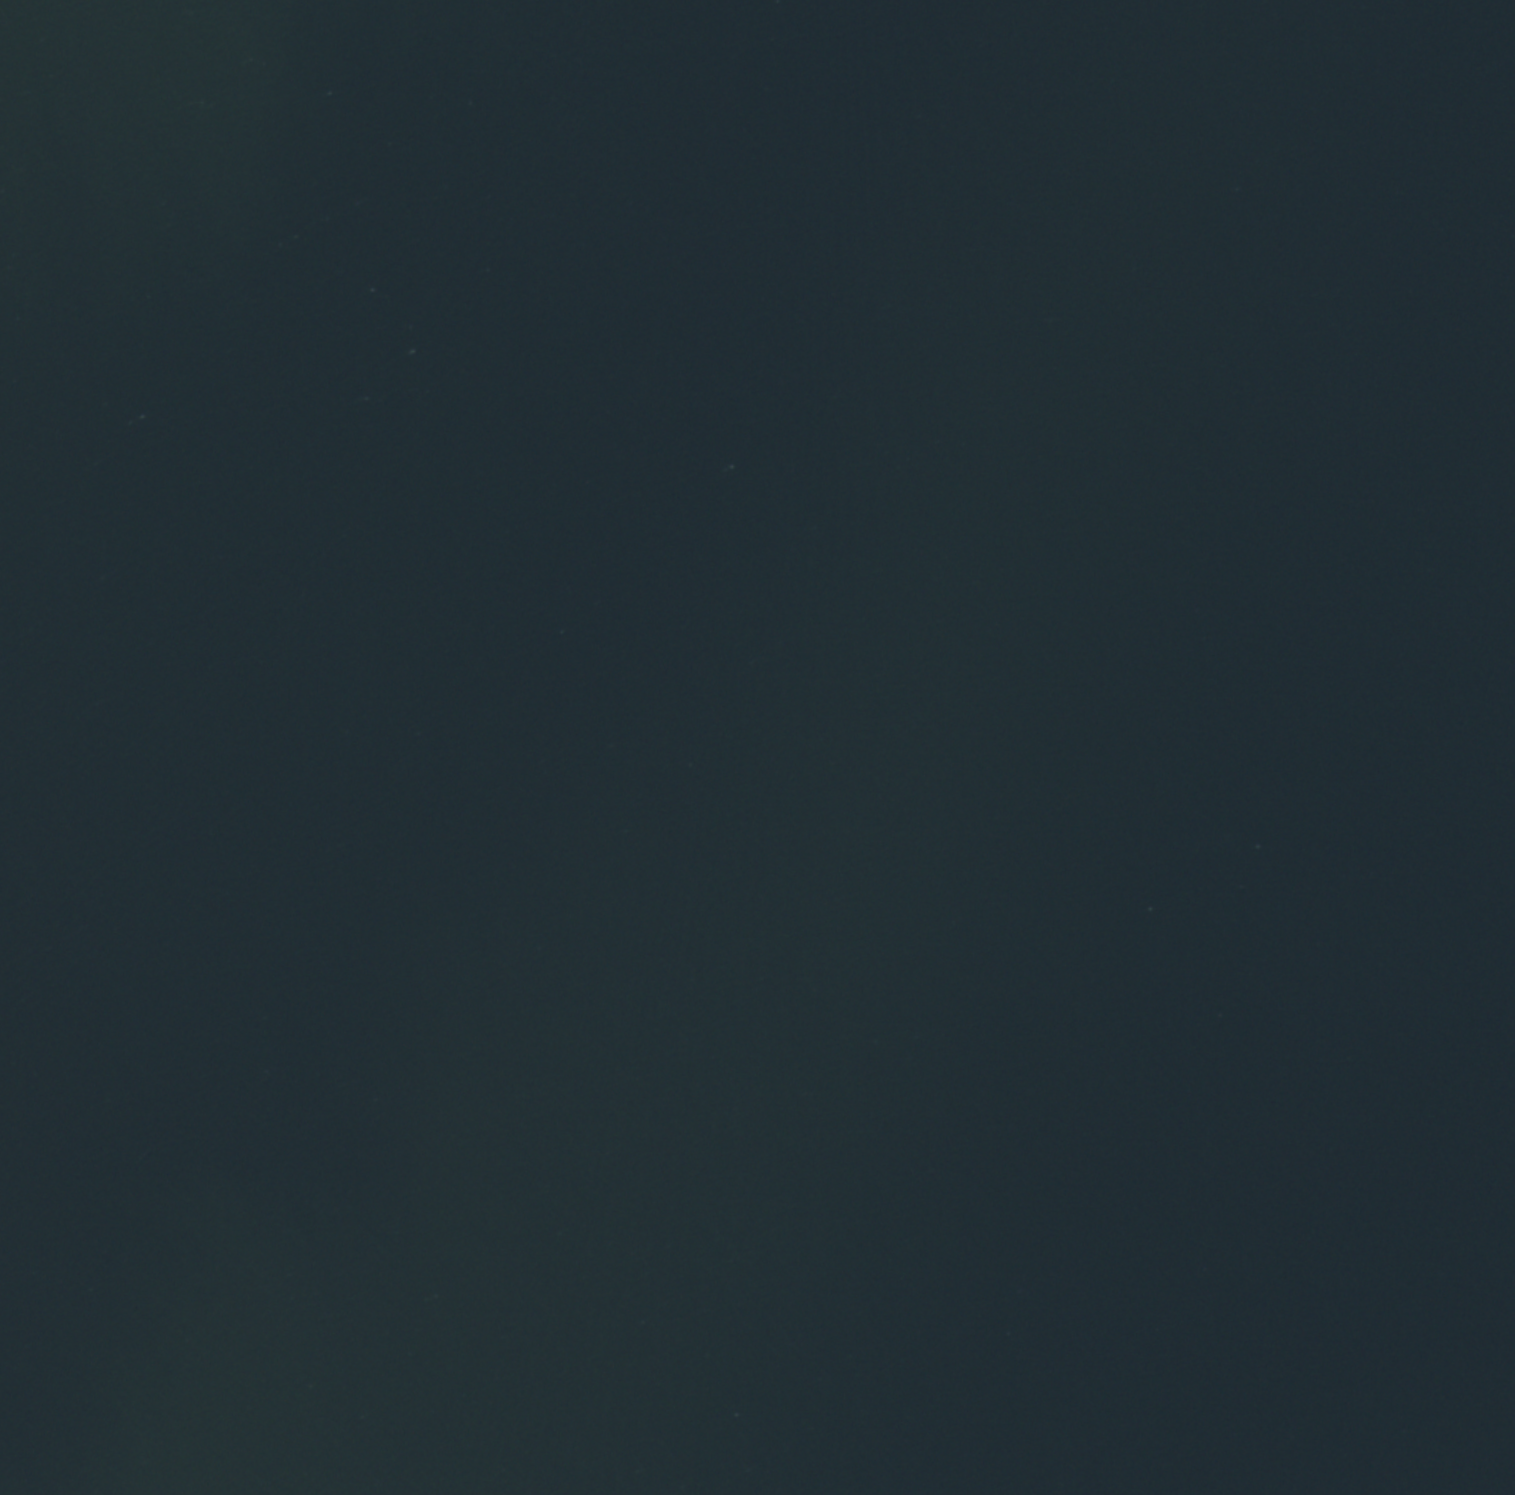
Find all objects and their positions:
river: (1370, 747)

